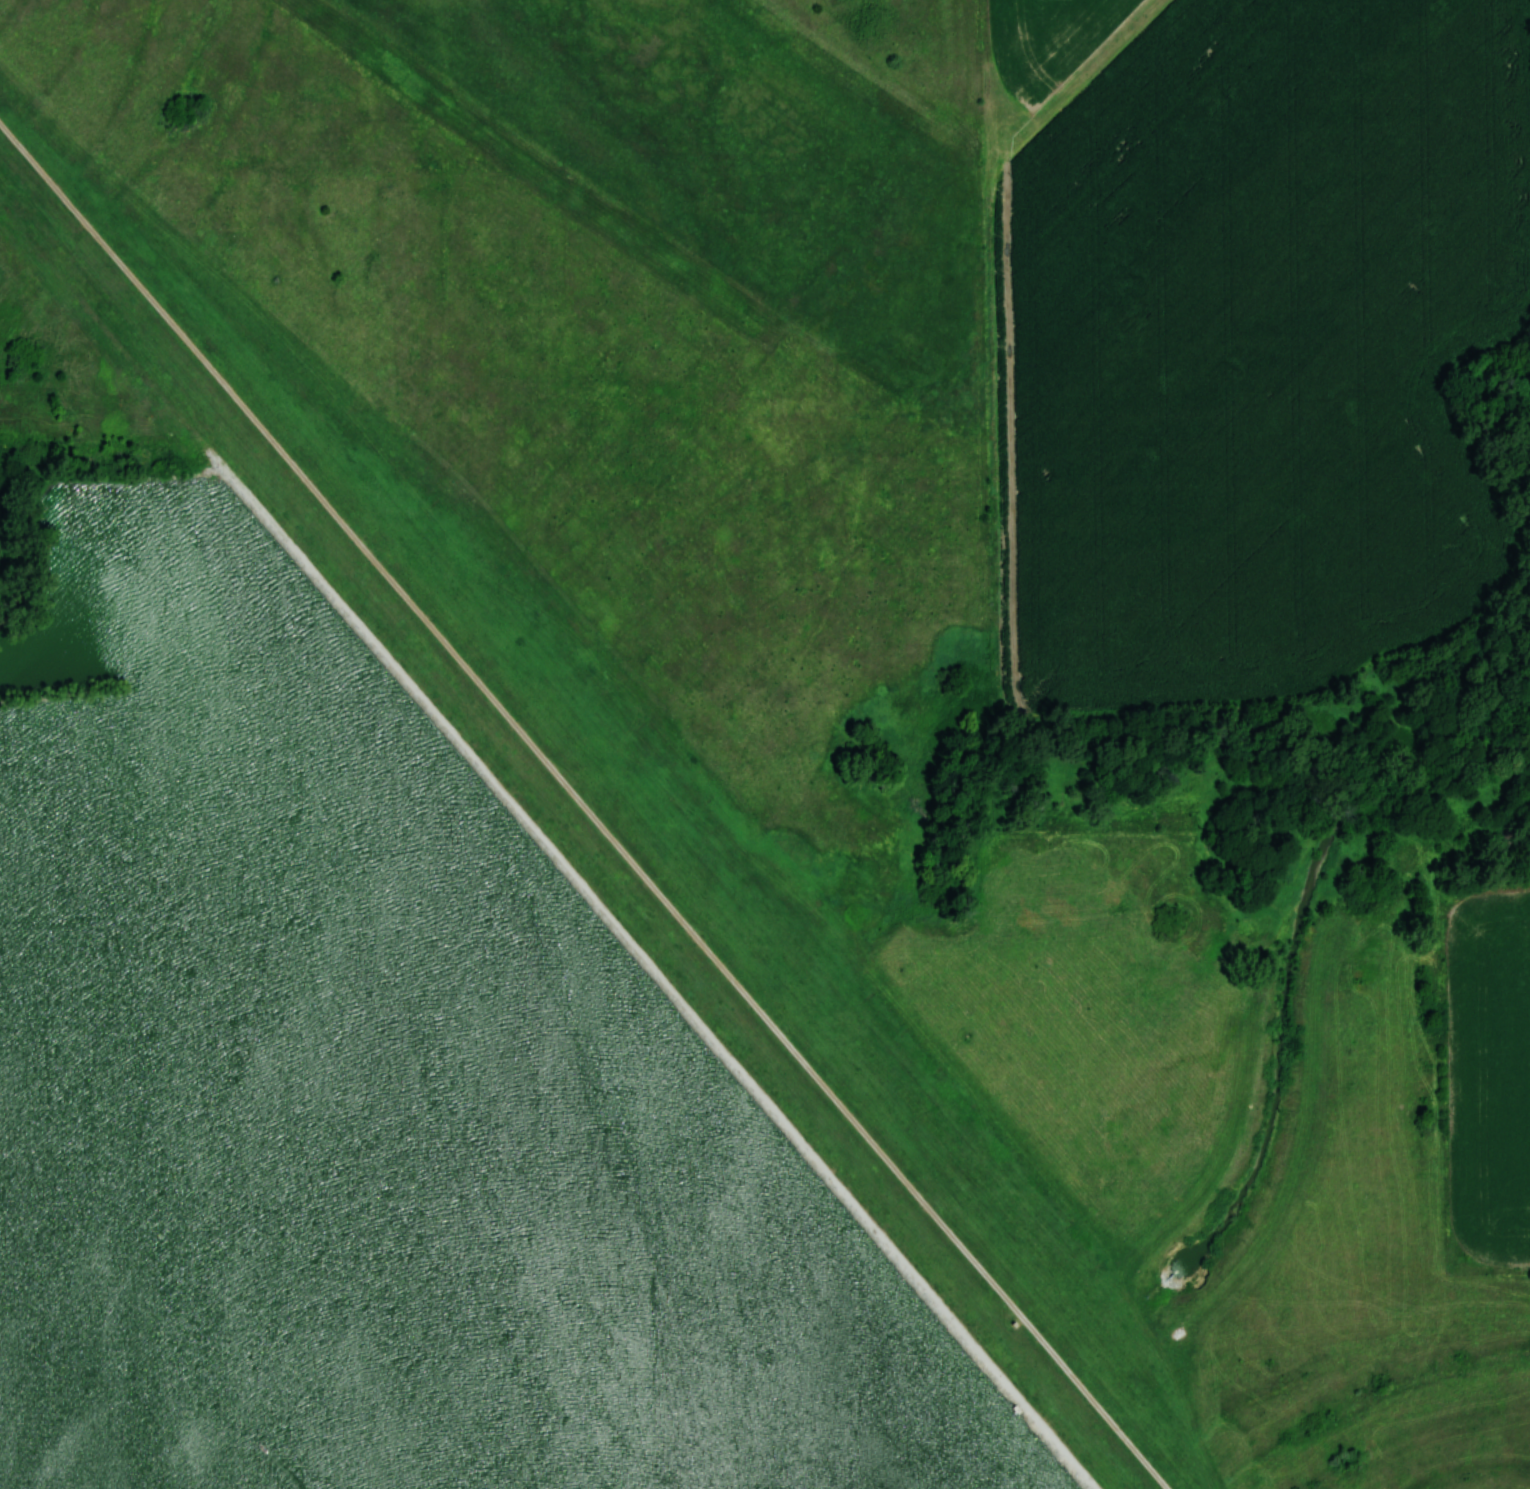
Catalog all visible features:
dam: (588, 801)
road: (585, 807)
road: (600, 917)
dam: (674, 987)

